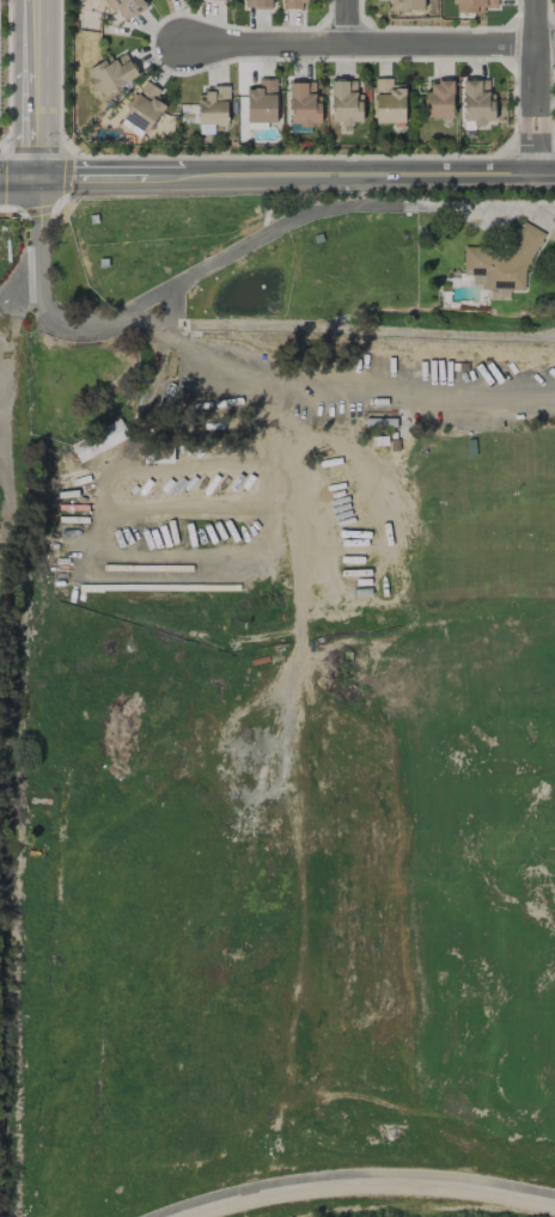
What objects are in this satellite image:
building: (202, 0)
building: (257, 4)
building: (293, 4)
building: (405, 5)
building: (474, 6)
building: (126, 7)
road: (348, 22)
road: (370, 42)
building: (111, 73)
road: (536, 86)
road: (36, 88)
building: (439, 99)
building: (262, 102)
building: (344, 102)
building: (388, 102)
building: (477, 102)
building: (304, 103)
building: (213, 106)
building: (142, 110)
road: (294, 173)
road: (18, 177)
traffic signals: (36, 177)
building: (551, 234)
building: (502, 263)
road: (20, 295)
road: (160, 298)
road: (173, 316)
road: (328, 380)
road: (89, 519)
park: (292, 709)
road: (349, 1174)

